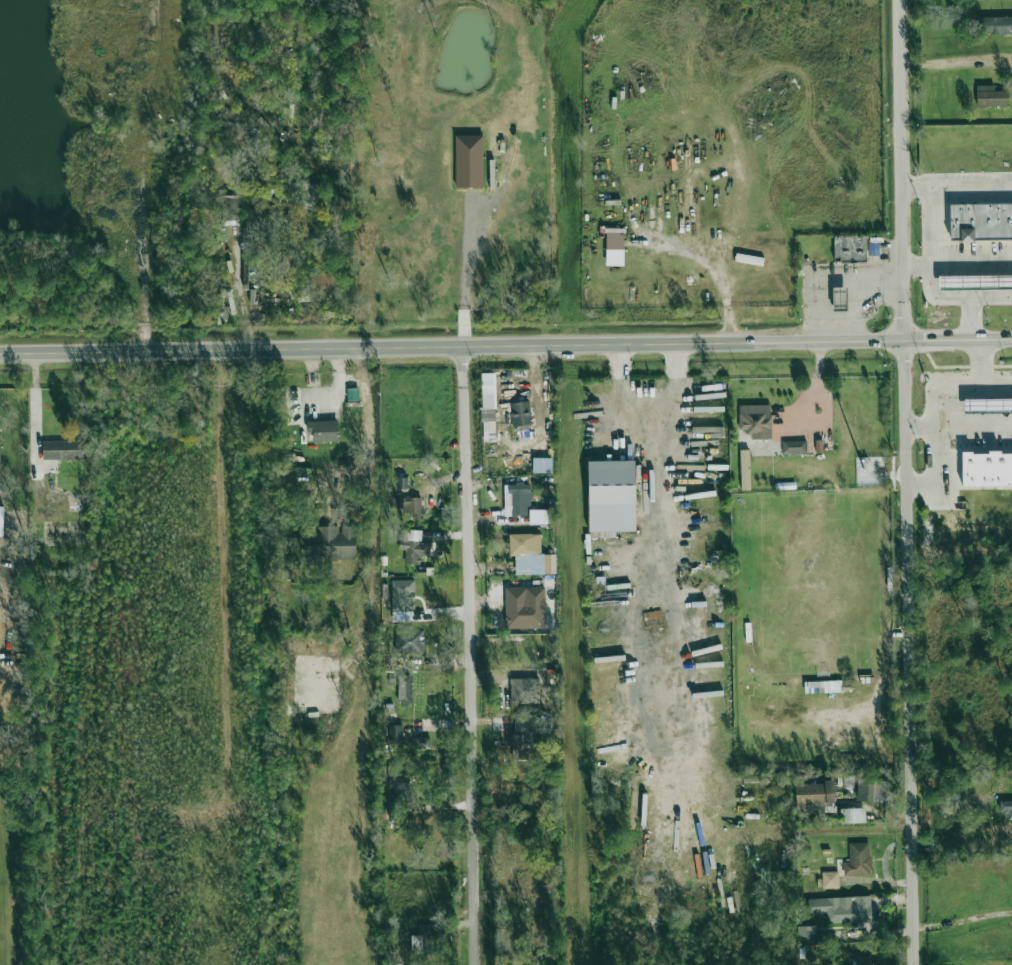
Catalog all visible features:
building: (995, 25)
road: (956, 62)
building: (990, 96)
building: (469, 161)
road: (957, 190)
building: (311, 196)
building: (230, 210)
building: (980, 222)
building: (614, 246)
building: (850, 248)
building: (749, 259)
road: (957, 263)
road: (465, 276)
building: (975, 282)
gas station: (975, 282)
road: (930, 283)
road: (241, 293)
building: (840, 299)
gas station: (840, 299)
road: (972, 317)
traffic signals: (903, 339)
road: (505, 344)
road: (977, 361)
road: (818, 371)
road: (940, 387)
building: (488, 390)
road: (822, 404)
building: (987, 406)
building: (520, 414)
road: (36, 416)
building: (755, 420)
road: (973, 425)
building: (323, 430)
road: (647, 438)
building: (794, 447)
building: (62, 450)
building: (1, 467)
building: (986, 469)
building: (744, 470)
road: (934, 470)
road: (905, 482)
building: (401, 483)
building: (611, 495)
building: (516, 499)
building: (406, 505)
building: (540, 517)
building: (1, 521)
road: (373, 522)
building: (602, 534)
building: (328, 543)
building: (413, 547)
building: (529, 554)
park: (820, 584)
building: (403, 595)
building: (524, 607)
building: (409, 640)
road: (471, 654)
building: (846, 685)
building: (822, 686)
building: (404, 690)
building: (524, 691)
building: (522, 733)
building: (396, 734)
building: (422, 743)
building: (399, 788)
building: (872, 790)
building: (814, 794)
building: (1006, 808)
building: (852, 815)
road: (959, 829)
building: (858, 860)
building: (830, 879)
building: (842, 908)
building: (806, 934)
building: (862, 960)

